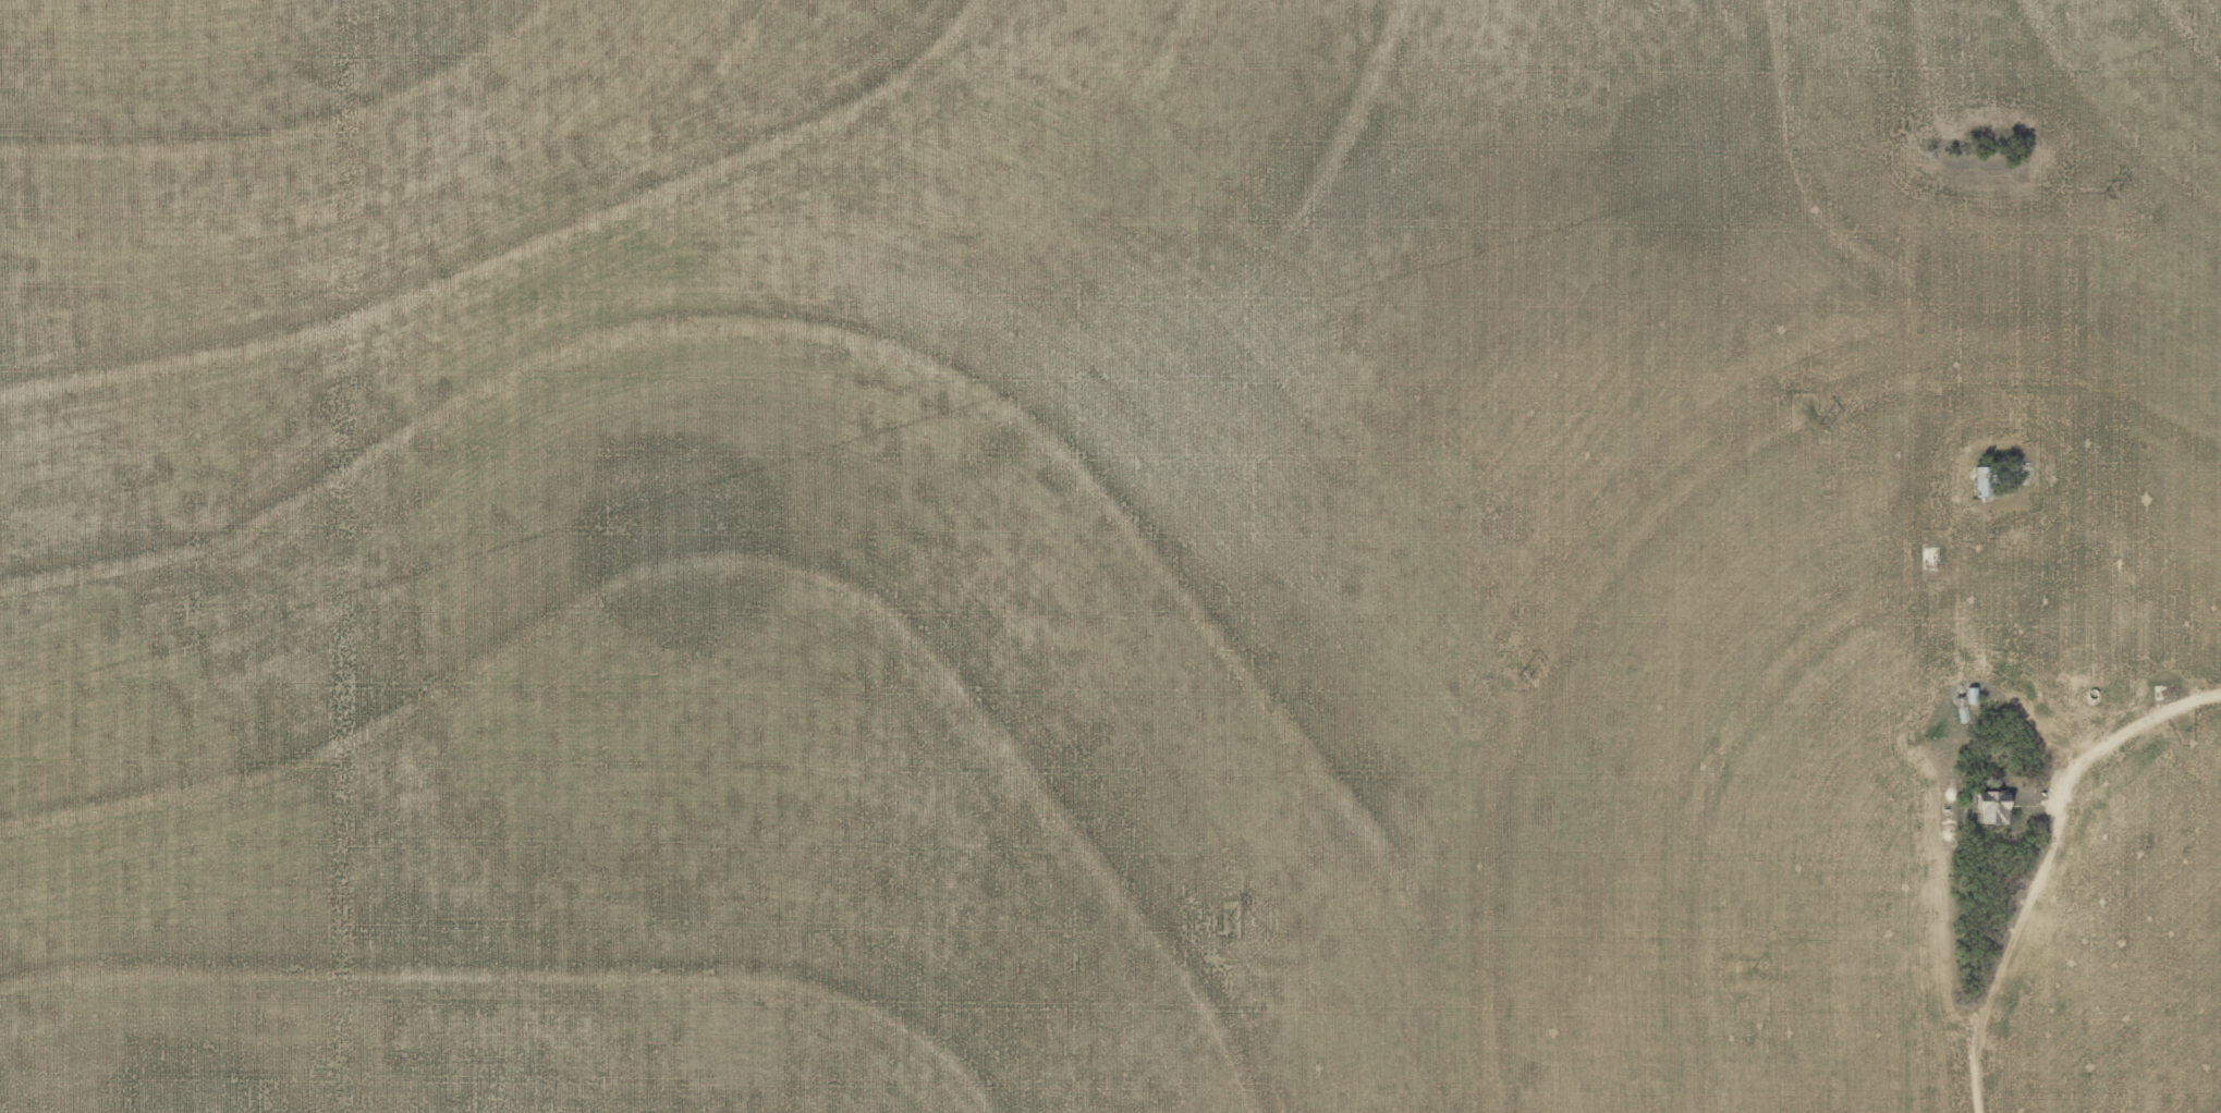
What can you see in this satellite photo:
power tower: (2106, 197)
power tower: (1819, 429)
power tower: (1514, 676)
road: (2053, 879)
power tower: (1216, 919)

